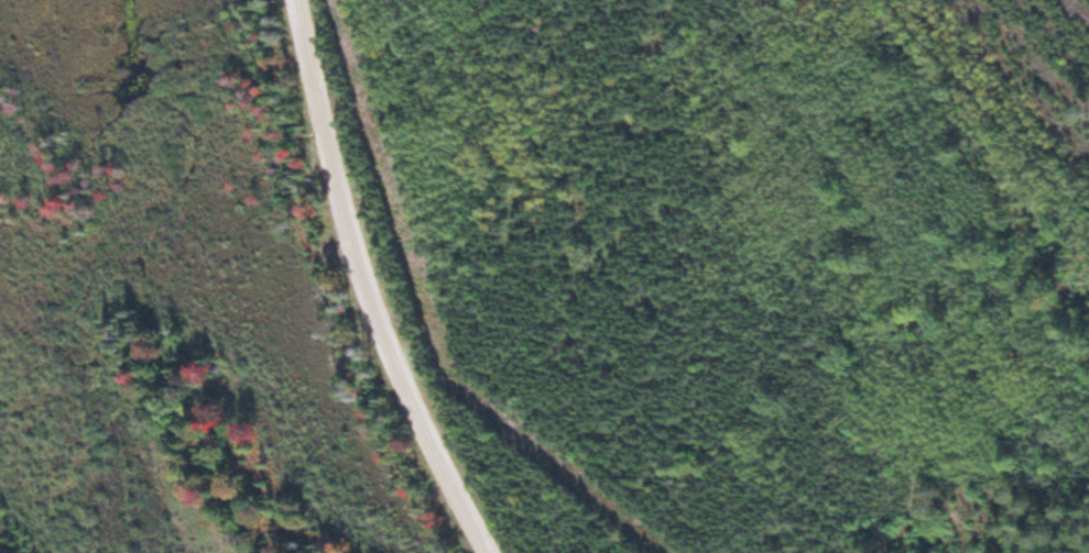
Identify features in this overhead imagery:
road: (370, 288)

